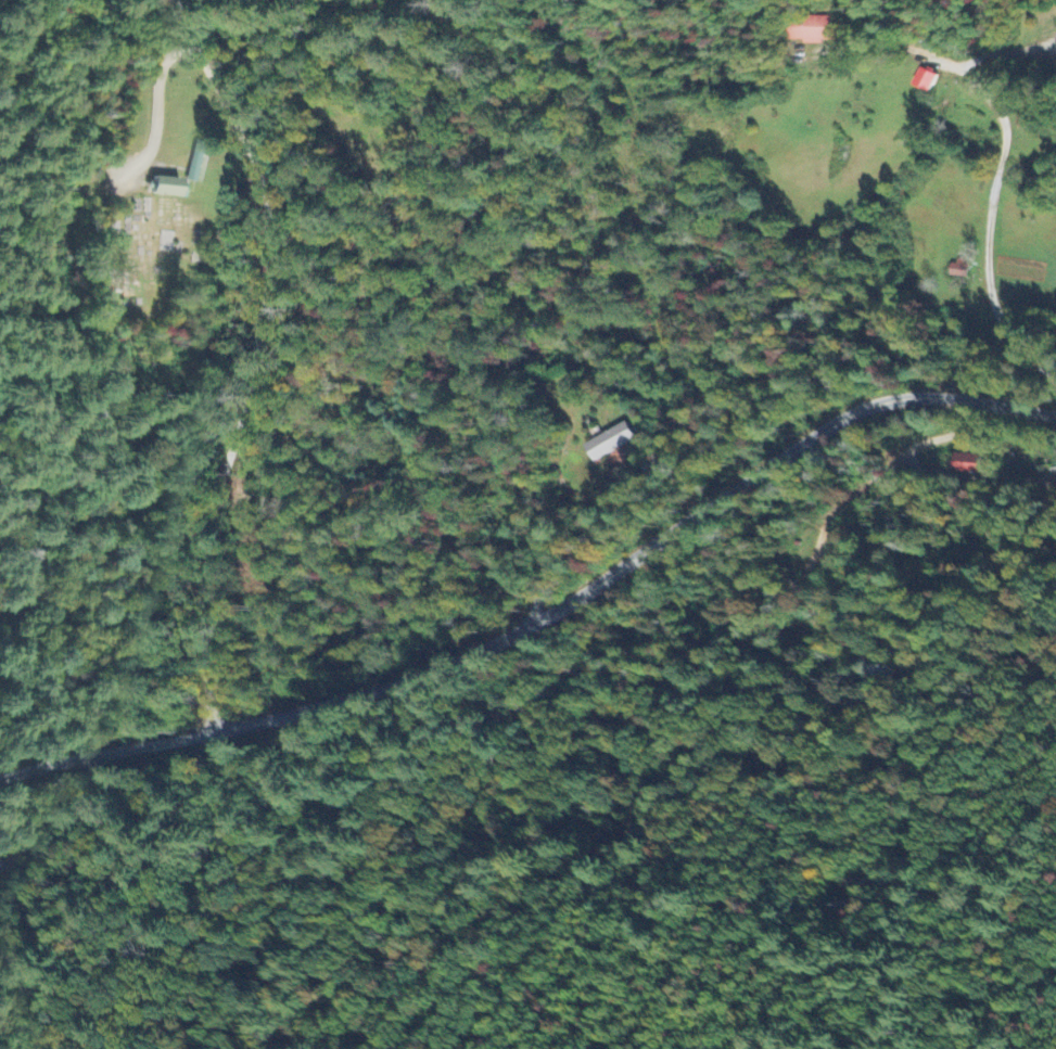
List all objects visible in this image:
road: (183, 24)
building: (812, 31)
building: (924, 81)
building: (164, 182)
park: (156, 252)
road: (239, 381)
building: (609, 444)
building: (967, 465)
road: (636, 559)
road: (103, 751)

